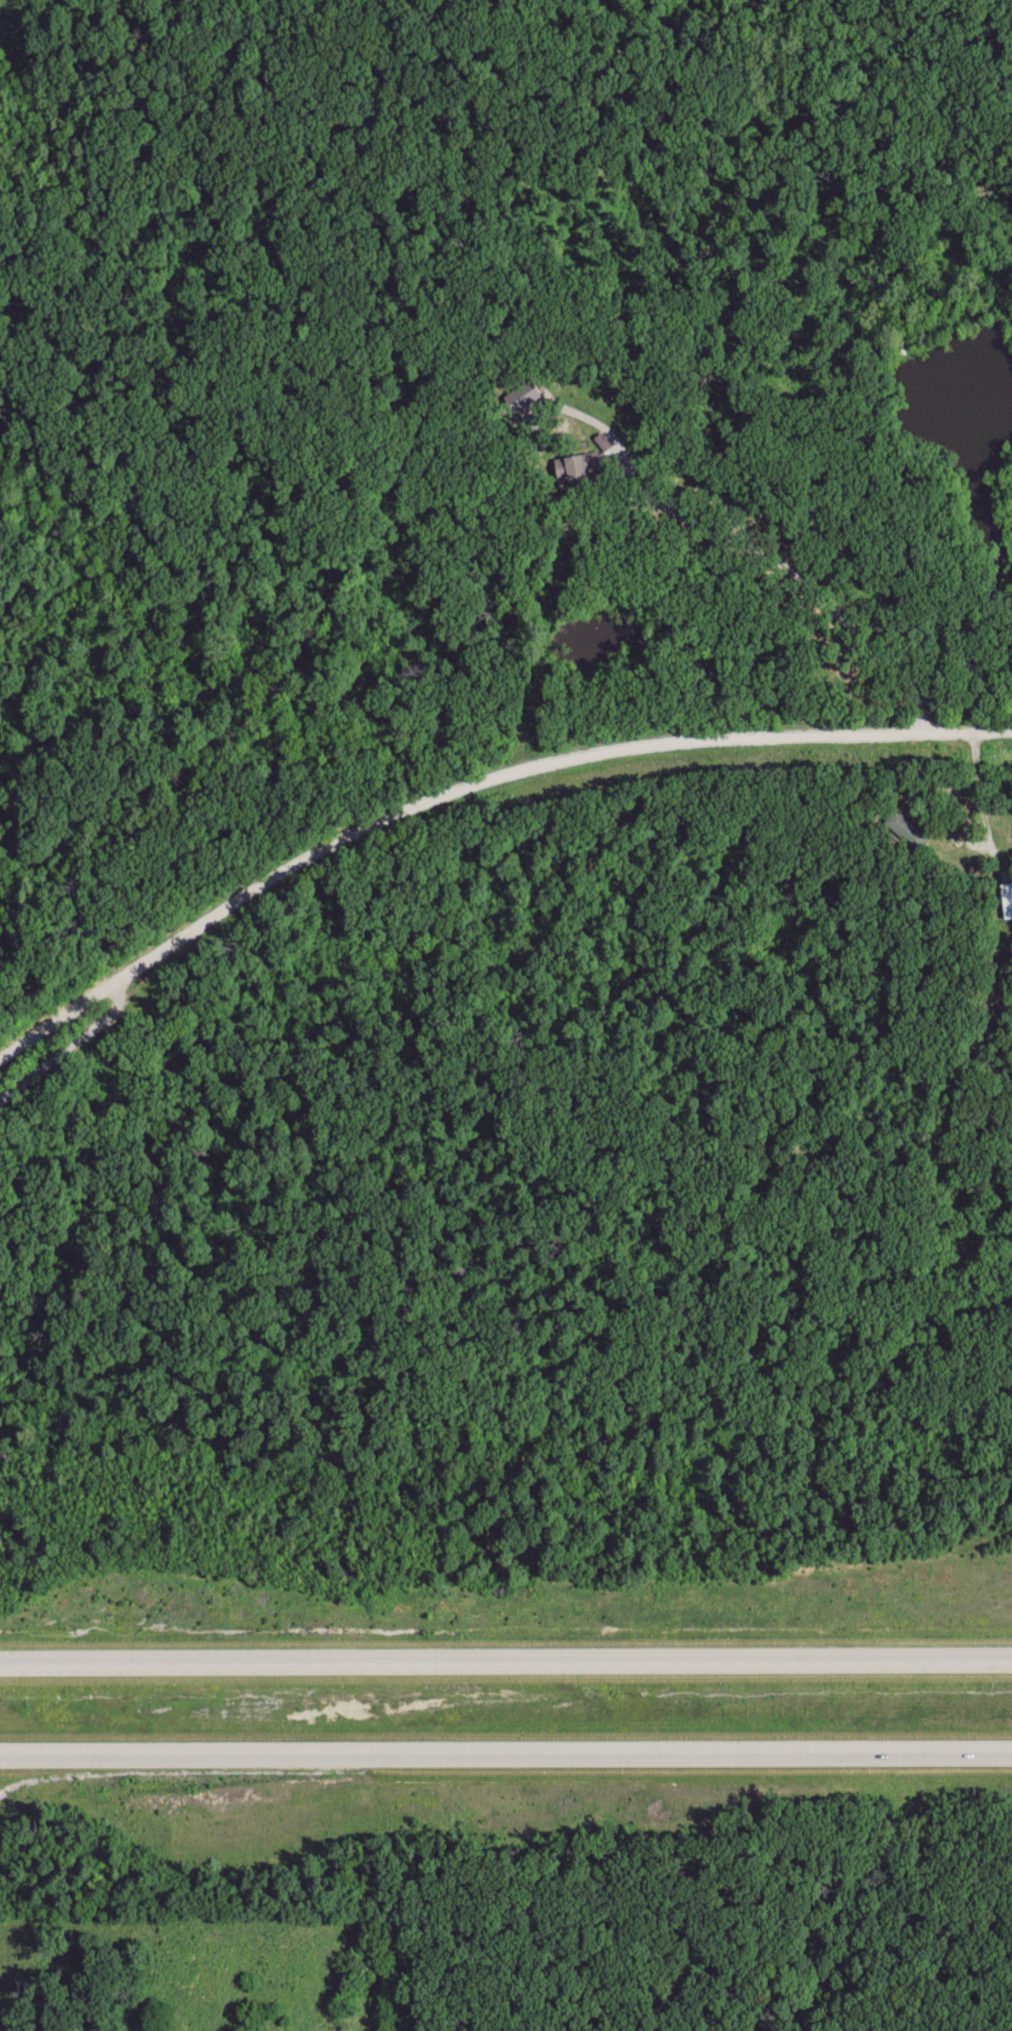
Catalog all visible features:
building: (524, 398)
building: (579, 471)
road: (472, 791)
building: (909, 831)
building: (1008, 902)
road: (506, 1661)
road: (506, 1751)

